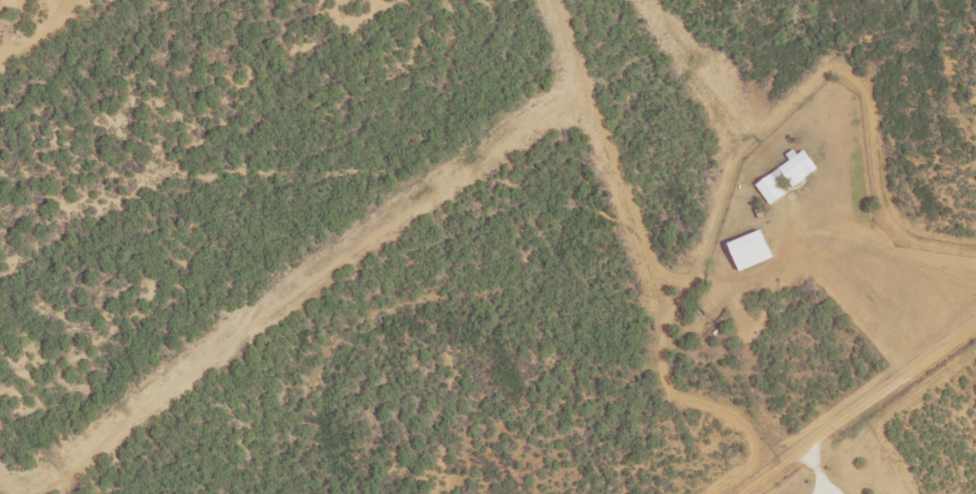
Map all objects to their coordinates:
building: (784, 177)
building: (743, 246)
road: (859, 411)

